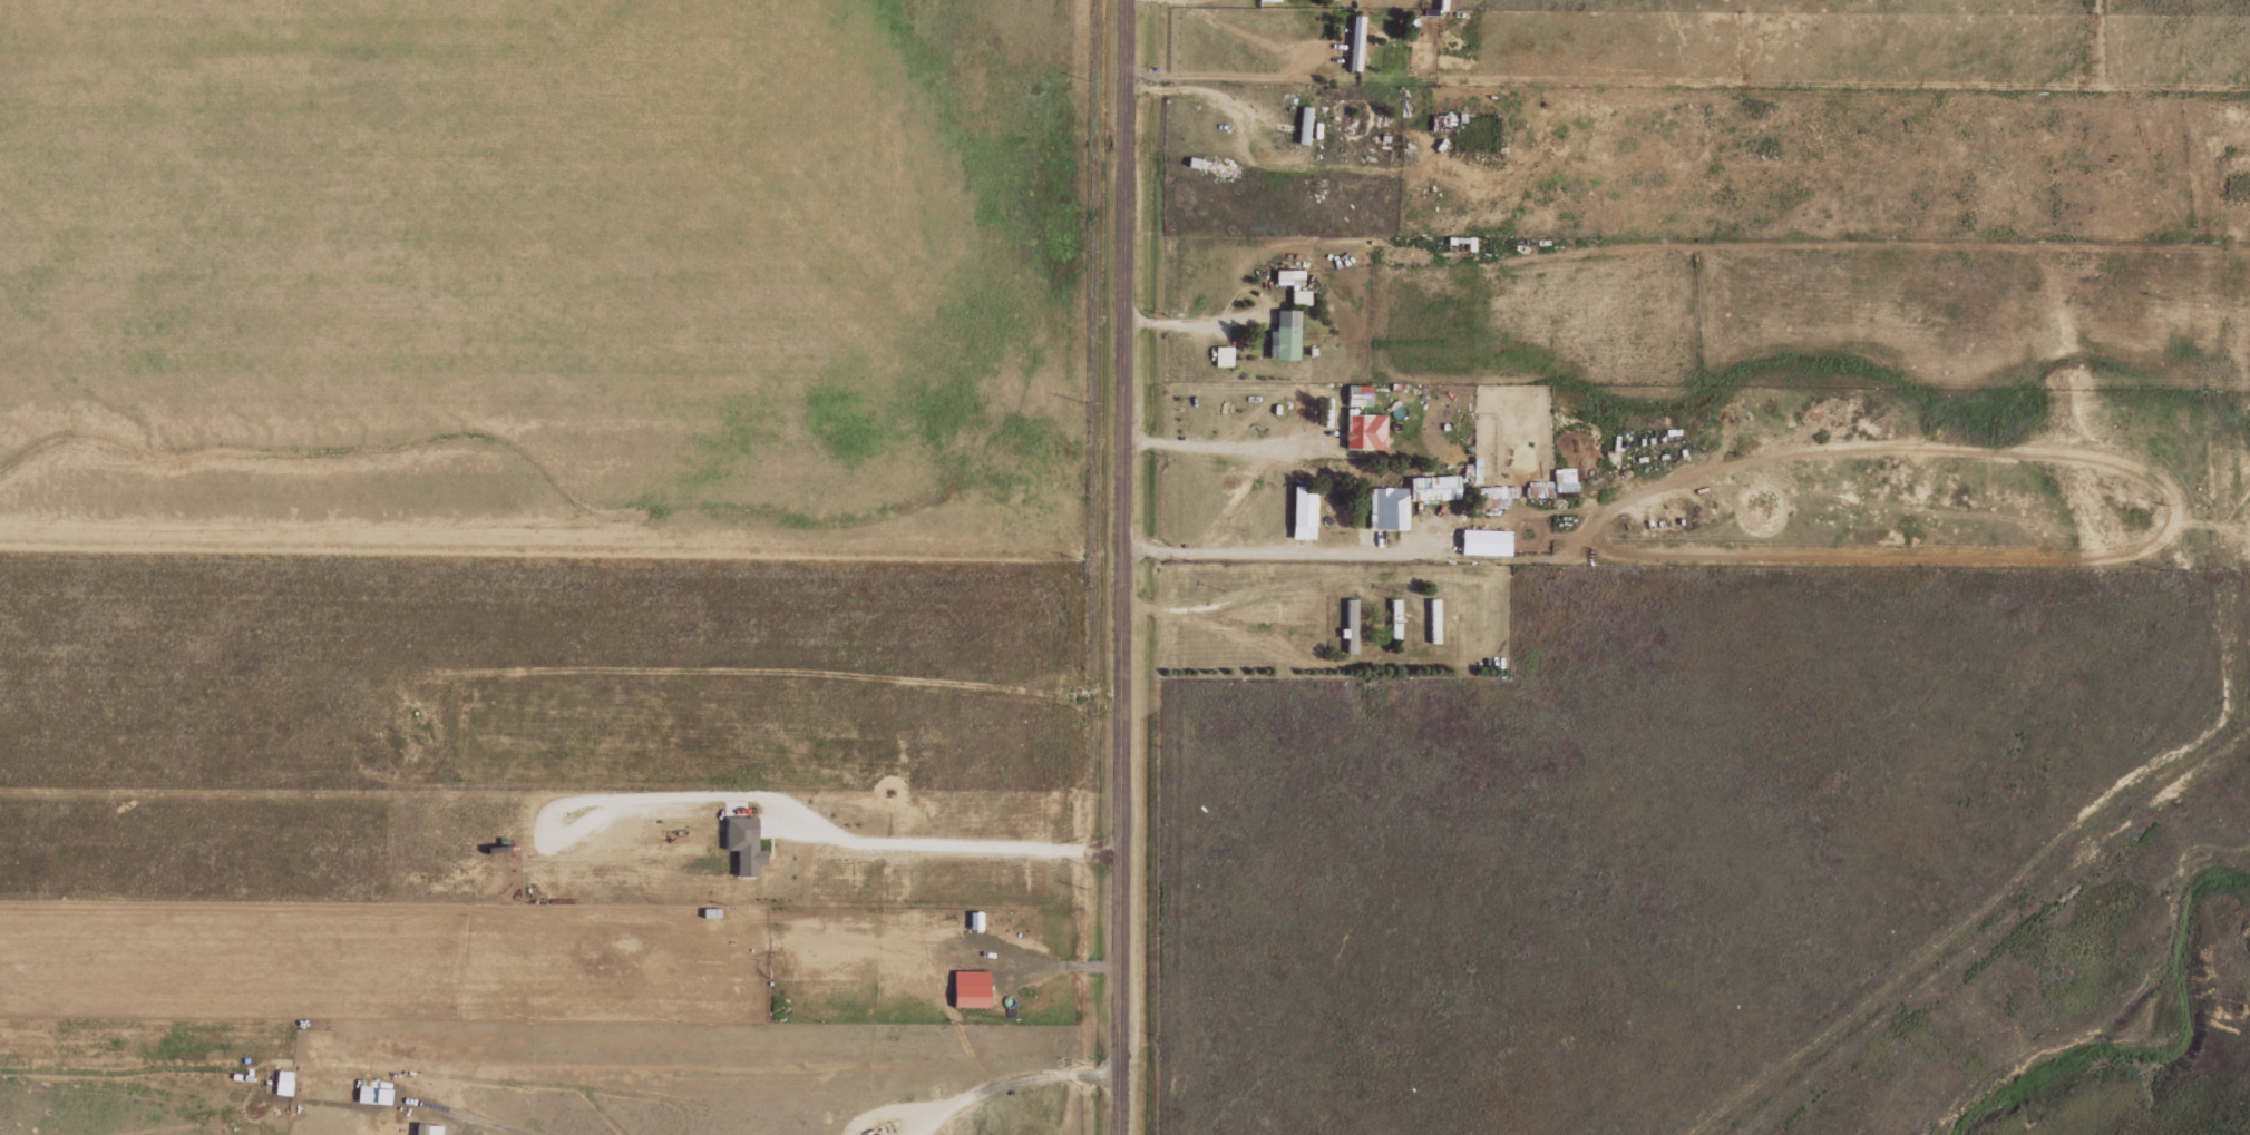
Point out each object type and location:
building: (1266, 0)
building: (1354, 43)
building: (1307, 125)
building: (1292, 277)
building: (1289, 335)
building: (1225, 356)
building: (1362, 395)
road: (1307, 424)
building: (1345, 473)
building: (1566, 480)
building: (1438, 488)
building: (1494, 496)
building: (1391, 508)
building: (1307, 513)
building: (1487, 542)
road: (1122, 567)
building: (1438, 616)
building: (1399, 619)
building: (1354, 625)
building: (748, 844)
building: (974, 996)
building: (285, 1083)
building: (431, 1129)

